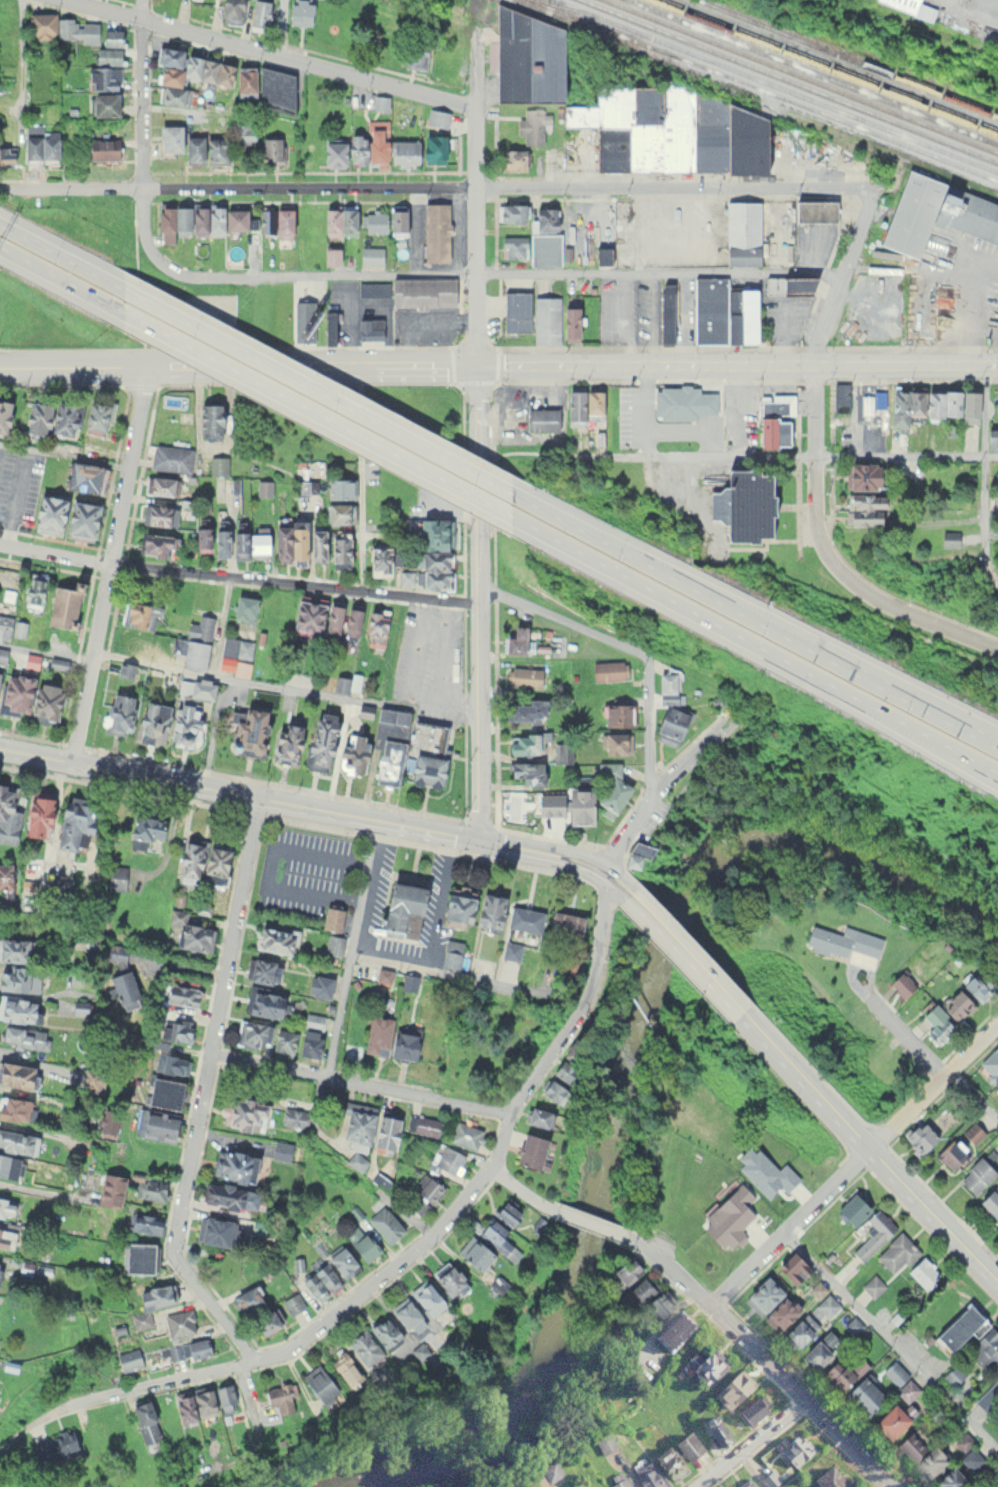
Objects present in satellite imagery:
building: (904, 3)
building: (204, 5)
building: (229, 10)
building: (300, 12)
building: (258, 13)
road: (279, 26)
building: (61, 27)
building: (110, 40)
road: (276, 52)
road: (21, 53)
building: (416, 54)
building: (108, 55)
railway: (849, 55)
building: (525, 58)
railway: (827, 66)
railway: (812, 72)
road: (479, 75)
railway: (804, 75)
building: (103, 77)
building: (234, 79)
railway: (791, 79)
railway: (773, 88)
building: (102, 104)
building: (394, 108)
building: (438, 117)
building: (533, 125)
road: (143, 132)
building: (242, 132)
building: (673, 132)
building: (191, 145)
building: (37, 146)
building: (102, 148)
building: (272, 149)
building: (354, 149)
building: (419, 150)
building: (513, 158)
railway: (984, 171)
road: (3, 186)
road: (439, 186)
building: (813, 211)
building: (513, 212)
building: (936, 213)
building: (224, 219)
building: (339, 220)
building: (386, 220)
building: (603, 221)
building: (436, 232)
building: (742, 233)
road: (478, 234)
building: (533, 248)
road: (57, 253)
building: (373, 256)
road: (499, 267)
road: (840, 273)
road: (55, 276)
building: (790, 284)
building: (414, 291)
building: (709, 309)
building: (517, 311)
building: (665, 313)
building: (741, 315)
building: (554, 320)
building: (884, 327)
building: (852, 328)
building: (368, 329)
road: (498, 360)
traffic signals: (477, 361)
road: (321, 391)
building: (841, 396)
building: (950, 401)
building: (585, 402)
building: (913, 402)
building: (869, 403)
building: (970, 404)
road: (316, 412)
building: (4, 413)
building: (98, 415)
building: (775, 415)
building: (49, 416)
building: (543, 417)
building: (210, 419)
road: (648, 421)
building: (990, 437)
road: (823, 454)
building: (172, 457)
building: (219, 464)
road: (985, 472)
building: (861, 473)
building: (997, 473)
road: (360, 474)
building: (83, 475)
road: (815, 483)
building: (159, 484)
building: (340, 486)
building: (995, 499)
building: (743, 503)
building: (865, 507)
building: (338, 511)
building: (47, 512)
building: (158, 513)
building: (80, 517)
building: (949, 537)
building: (289, 539)
building: (231, 540)
building: (156, 543)
building: (316, 543)
building: (340, 550)
building: (429, 556)
building: (378, 558)
road: (109, 562)
road: (238, 575)
road: (995, 584)
building: (34, 589)
building: (192, 595)
road: (478, 599)
building: (64, 602)
building: (245, 607)
building: (139, 614)
building: (306, 614)
building: (343, 620)
road: (929, 622)
road: (762, 623)
building: (4, 627)
building: (376, 628)
building: (514, 638)
building: (194, 643)
building: (138, 644)
road: (759, 645)
road: (622, 646)
building: (234, 650)
building: (3, 654)
building: (609, 670)
building: (524, 676)
building: (669, 686)
building: (200, 688)
road: (914, 695)
building: (29, 696)
building: (526, 708)
building: (615, 711)
building: (118, 713)
building: (151, 721)
building: (185, 723)
building: (253, 724)
building: (665, 730)
building: (287, 738)
building: (527, 741)
building: (615, 741)
building: (333, 743)
road: (697, 745)
building: (562, 751)
building: (388, 761)
road: (977, 763)
building: (426, 768)
building: (526, 770)
building: (609, 787)
building: (524, 803)
building: (579, 806)
road: (319, 808)
building: (35, 812)
building: (8, 814)
building: (71, 821)
road: (630, 825)
building: (144, 828)
traffic signals: (479, 839)
building: (201, 858)
road: (275, 862)
parking lot: (344, 886)
building: (471, 907)
building: (401, 909)
building: (332, 918)
building: (193, 937)
building: (561, 938)
building: (274, 939)
building: (13, 947)
road: (684, 951)
building: (450, 954)
road: (391, 956)
building: (263, 970)
building: (903, 983)
building: (977, 984)
building: (319, 985)
building: (123, 988)
building: (180, 990)
building: (263, 1002)
building: (16, 1003)
building: (957, 1004)
building: (314, 1020)
road: (566, 1025)
building: (177, 1026)
building: (939, 1029)
building: (250, 1034)
road: (912, 1036)
building: (25, 1037)
building: (282, 1038)
building: (386, 1038)
building: (308, 1042)
building: (172, 1063)
building: (991, 1064)
building: (559, 1070)
river: (625, 1070)
building: (17, 1075)
road: (363, 1079)
building: (550, 1089)
building: (997, 1089)
building: (162, 1091)
road: (205, 1091)
road: (971, 1102)
building: (12, 1108)
building: (243, 1113)
building: (537, 1114)
building: (295, 1116)
building: (104, 1121)
building: (354, 1121)
building: (157, 1124)
building: (424, 1124)
building: (381, 1129)
building: (973, 1133)
building: (466, 1134)
building: (920, 1135)
road: (866, 1148)
building: (281, 1149)
building: (529, 1149)
building: (15, 1150)
building: (952, 1152)
building: (354, 1159)
building: (448, 1160)
road: (852, 1162)
building: (234, 1164)
building: (977, 1174)
building: (110, 1191)
road: (516, 1191)
building: (150, 1193)
building: (426, 1193)
building: (225, 1194)
building: (990, 1200)
building: (7, 1205)
building: (849, 1210)
building: (504, 1212)
road: (587, 1221)
building: (144, 1222)
building: (386, 1223)
building: (211, 1229)
building: (870, 1235)
building: (495, 1236)
building: (6, 1238)
building: (361, 1242)
building: (897, 1252)
building: (474, 1253)
building: (136, 1257)
building: (341, 1261)
building: (0, 1266)
building: (794, 1266)
road: (673, 1268)
building: (923, 1270)
building: (626, 1271)
building: (446, 1278)
building: (874, 1284)
building: (818, 1288)
building: (764, 1293)
building: (425, 1296)
building: (649, 1297)
building: (246, 1298)
building: (151, 1301)
building: (829, 1304)
building: (294, 1305)
building: (781, 1312)
building: (405, 1313)
building: (178, 1322)
building: (266, 1323)
building: (855, 1325)
building: (958, 1326)
building: (802, 1329)
building: (670, 1331)
road: (894, 1334)
building: (375, 1340)
building: (186, 1347)
building: (821, 1348)
building: (987, 1348)
road: (758, 1353)
road: (268, 1355)
building: (129, 1357)
building: (346, 1368)
building: (704, 1368)
building: (837, 1373)
building: (995, 1382)
building: (321, 1384)
building: (730, 1390)
building: (864, 1395)
building: (278, 1397)
building: (203, 1401)
building: (751, 1412)
building: (890, 1420)
building: (146, 1426)
building: (714, 1432)
building: (603, 1442)
road: (747, 1444)
road: (843, 1444)
building: (57, 1446)
building: (686, 1446)
building: (792, 1449)
building: (920, 1453)
building: (667, 1464)
building: (645, 1477)
building: (769, 1478)
building: (948, 1478)
building: (825, 1479)
building: (616, 1480)
building: (743, 1484)

